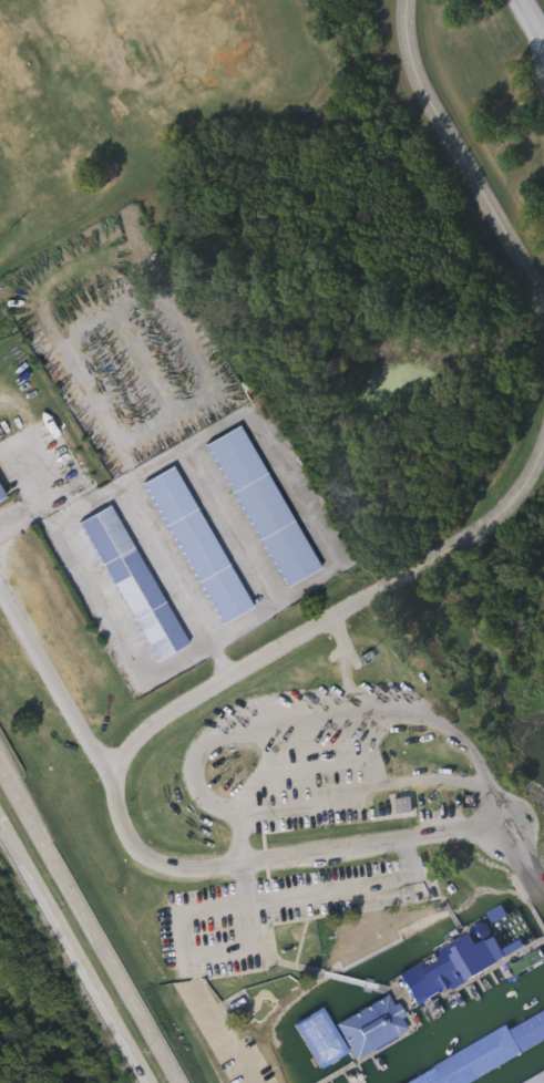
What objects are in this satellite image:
road: (533, 18)
road: (461, 152)
building: (2, 497)
building: (263, 503)
park: (259, 509)
road: (14, 522)
building: (196, 541)
building: (133, 580)
road: (226, 666)
road: (55, 684)
road: (142, 739)
parking lot: (318, 754)
road: (480, 766)
road: (311, 767)
road: (212, 796)
building: (407, 804)
road: (242, 837)
road: (248, 884)
road: (360, 888)
parking lot: (279, 914)
road: (89, 925)
road: (304, 945)
road: (74, 950)
road: (271, 957)
road: (189, 965)
building: (453, 969)
road: (348, 980)
road: (406, 1004)
road: (225, 1024)
building: (377, 1027)
parking lot: (227, 1039)
building: (325, 1039)
building: (492, 1056)
road: (342, 1073)
building: (542, 1082)

